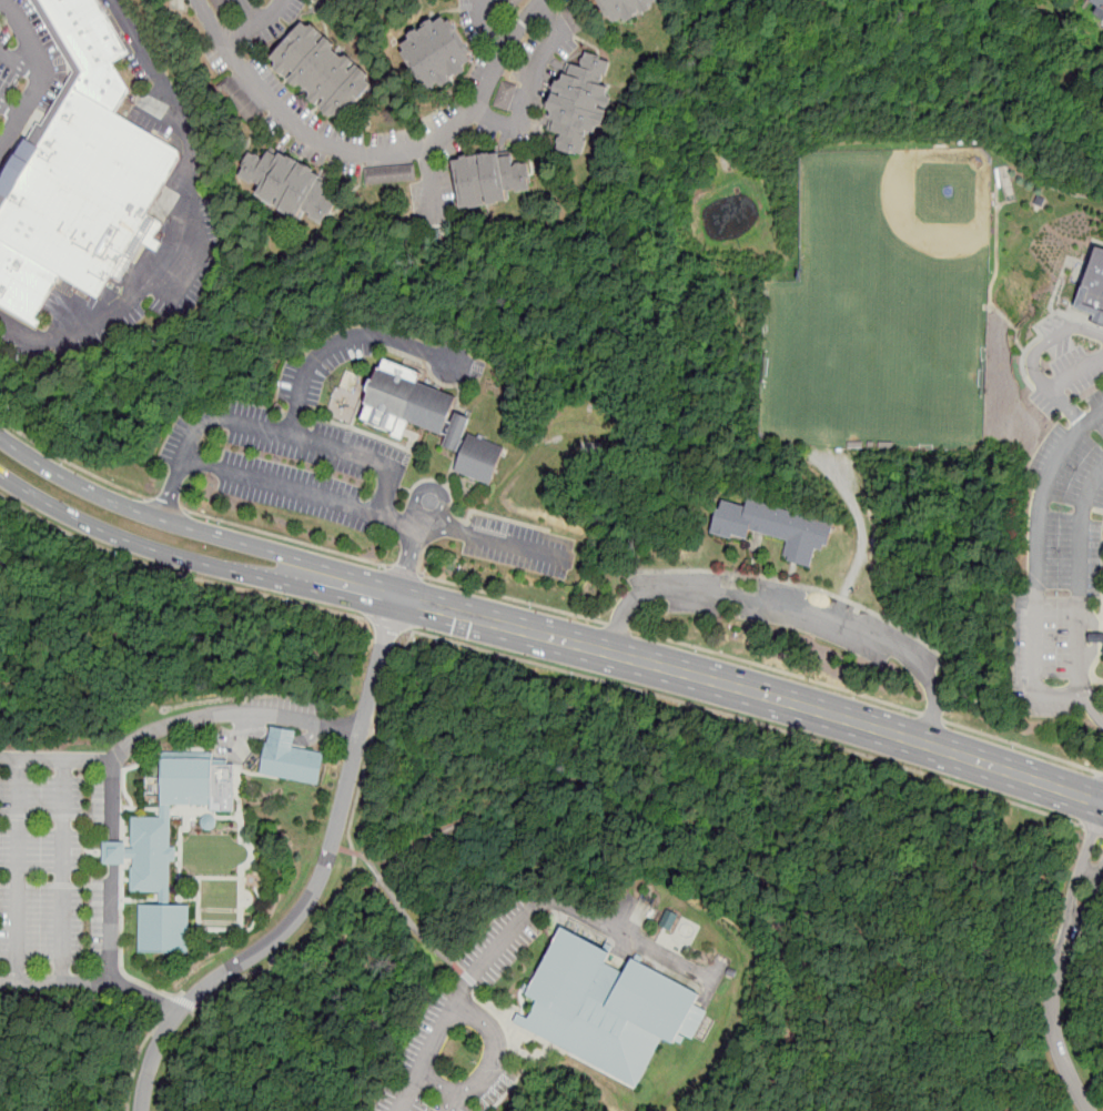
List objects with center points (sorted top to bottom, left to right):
building: (212, 1)
building: (519, 1)
building: (219, 3)
building: (512, 4)
building: (1097, 4)
building: (625, 8)
building: (506, 10)
building: (224, 11)
road: (252, 11)
building: (570, 14)
building: (575, 22)
road: (255, 23)
road: (485, 27)
building: (579, 30)
building: (92, 48)
building: (438, 55)
road: (23, 62)
parking lot: (9, 68)
building: (322, 73)
road: (44, 79)
road: (534, 83)
building: (225, 88)
building: (508, 90)
building: (231, 93)
building: (506, 99)
building: (236, 100)
building: (242, 107)
building: (503, 107)
building: (579, 107)
road: (11, 110)
building: (247, 112)
building: (253, 119)
road: (0, 156)
road: (375, 158)
building: (412, 175)
building: (403, 176)
building: (377, 178)
building: (386, 178)
building: (395, 178)
building: (370, 179)
building: (490, 180)
building: (289, 186)
road: (432, 191)
building: (84, 192)
road: (192, 226)
park: (891, 229)
building: (23, 283)
building: (1093, 287)
road: (345, 344)
road: (1032, 360)
road: (1072, 370)
park: (873, 375)
building: (405, 402)
road: (270, 432)
building: (479, 461)
road: (71, 463)
road: (301, 494)
road: (164, 503)
road: (436, 512)
road: (446, 516)
road: (421, 521)
road: (193, 529)
building: (776, 529)
road: (436, 532)
road: (284, 537)
road: (509, 543)
road: (190, 563)
road: (408, 565)
road: (1040, 566)
road: (403, 570)
road: (176, 573)
road: (1081, 582)
road: (512, 598)
road: (793, 608)
road: (1101, 609)
road: (389, 624)
road: (617, 625)
building: (1096, 640)
building: (1102, 655)
road: (380, 666)
road: (773, 669)
road: (752, 694)
road: (1091, 709)
road: (930, 716)
road: (300, 720)
road: (749, 720)
road: (172, 726)
road: (245, 729)
road: (286, 738)
road: (241, 739)
road: (1021, 745)
road: (10, 758)
building: (290, 758)
road: (67, 759)
road: (148, 759)
road: (1102, 772)
road: (256, 774)
building: (198, 785)
road: (239, 790)
road: (498, 799)
road: (51, 816)
road: (113, 816)
building: (206, 821)
road: (1092, 830)
road: (181, 844)
building: (115, 850)
road: (73, 851)
road: (93, 851)
road: (113, 851)
road: (175, 852)
building: (150, 855)
road: (353, 856)
road: (18, 870)
road: (62, 870)
road: (113, 871)
parking lot: (59, 872)
road: (1091, 873)
road: (210, 878)
park: (485, 882)
road: (1077, 882)
road: (60, 883)
road: (113, 885)
road: (199, 888)
road: (241, 892)
road: (259, 896)
road: (140, 899)
road: (241, 899)
road: (308, 899)
road: (1016, 902)
road: (121, 903)
park: (217, 915)
road: (1082, 916)
building: (668, 919)
road: (517, 920)
building: (164, 930)
road: (419, 933)
road: (903, 933)
building: (729, 971)
road: (8, 981)
road: (64, 982)
road: (145, 997)
road: (185, 1001)
road: (161, 1004)
building: (606, 1006)
road: (499, 1019)
road: (523, 1020)
road: (230, 1028)
road: (542, 1030)
parking lot: (465, 1031)
road: (884, 1032)
road: (1055, 1038)
road: (544, 1051)
road: (138, 1058)
road: (789, 1058)
road: (152, 1059)
road: (492, 1067)
road: (525, 1068)
road: (455, 1100)

